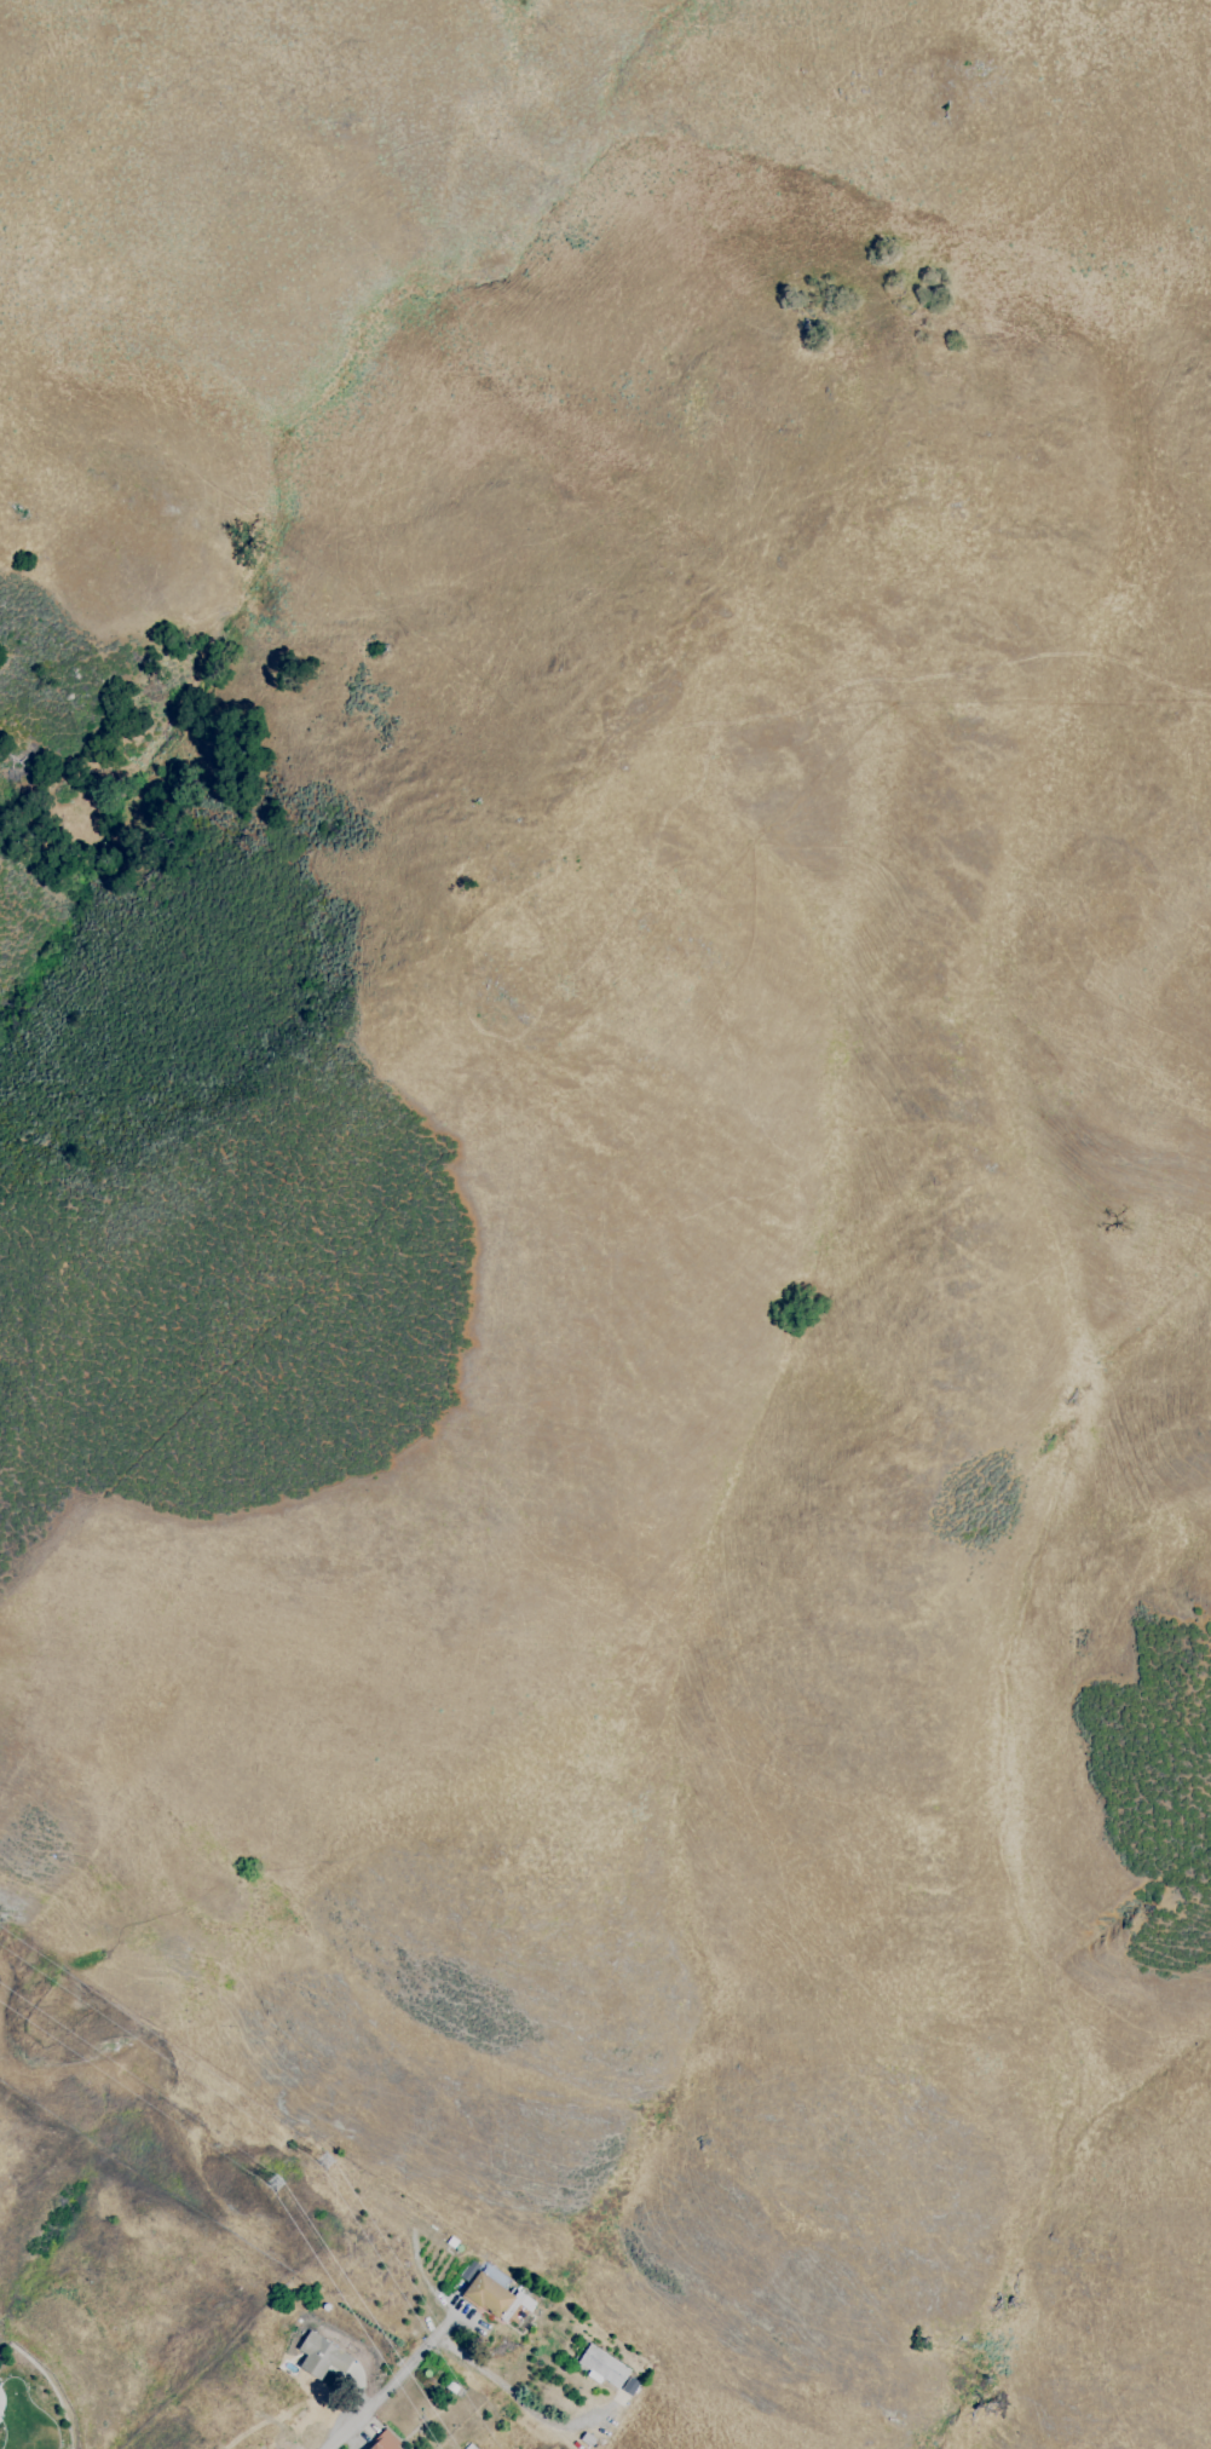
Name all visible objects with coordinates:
power tower: (328, 2161)
power tower: (276, 2185)
building: (452, 2242)
building: (469, 2271)
building: (494, 2297)
building: (321, 2329)
building: (323, 2356)
building: (604, 2366)
road: (400, 2374)
building: (630, 2386)
road: (517, 2398)
park: (28, 2405)
road: (339, 2438)
building: (588, 2439)
building: (386, 2441)
building: (474, 2448)

